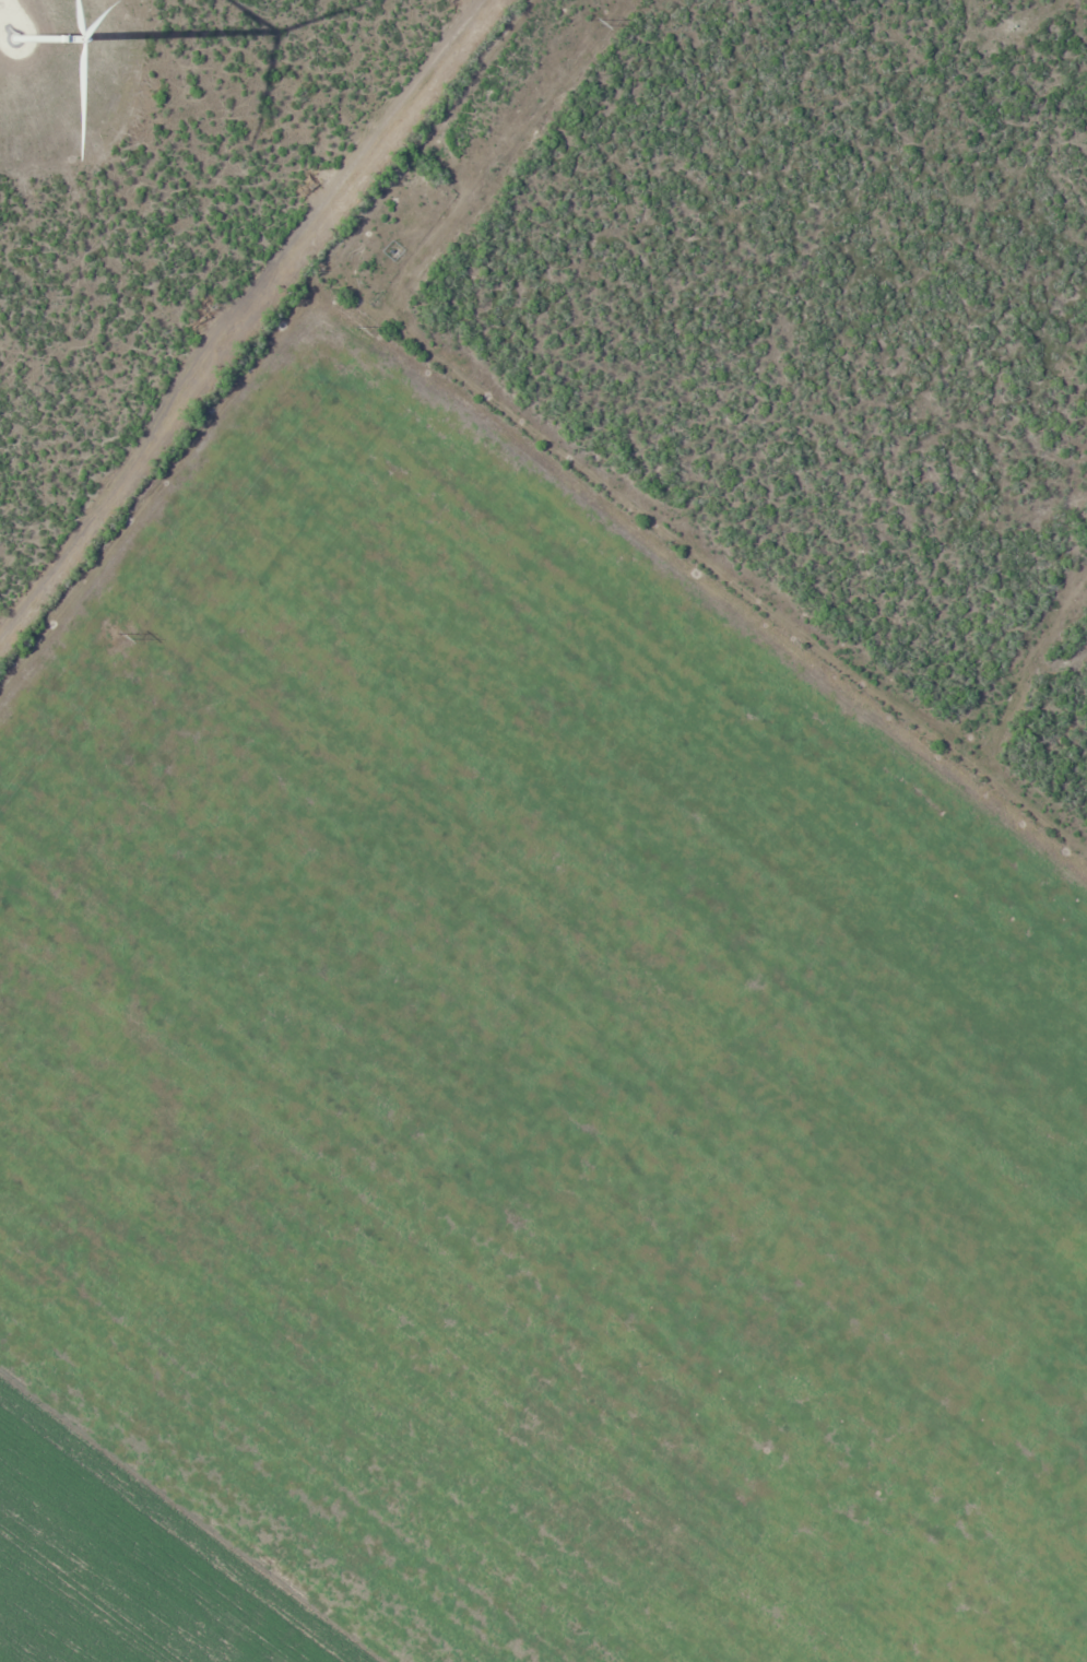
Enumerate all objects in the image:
power tower: (596, 21)
wind turbine: (14, 34)
power tower: (358, 329)
power tower: (121, 635)

